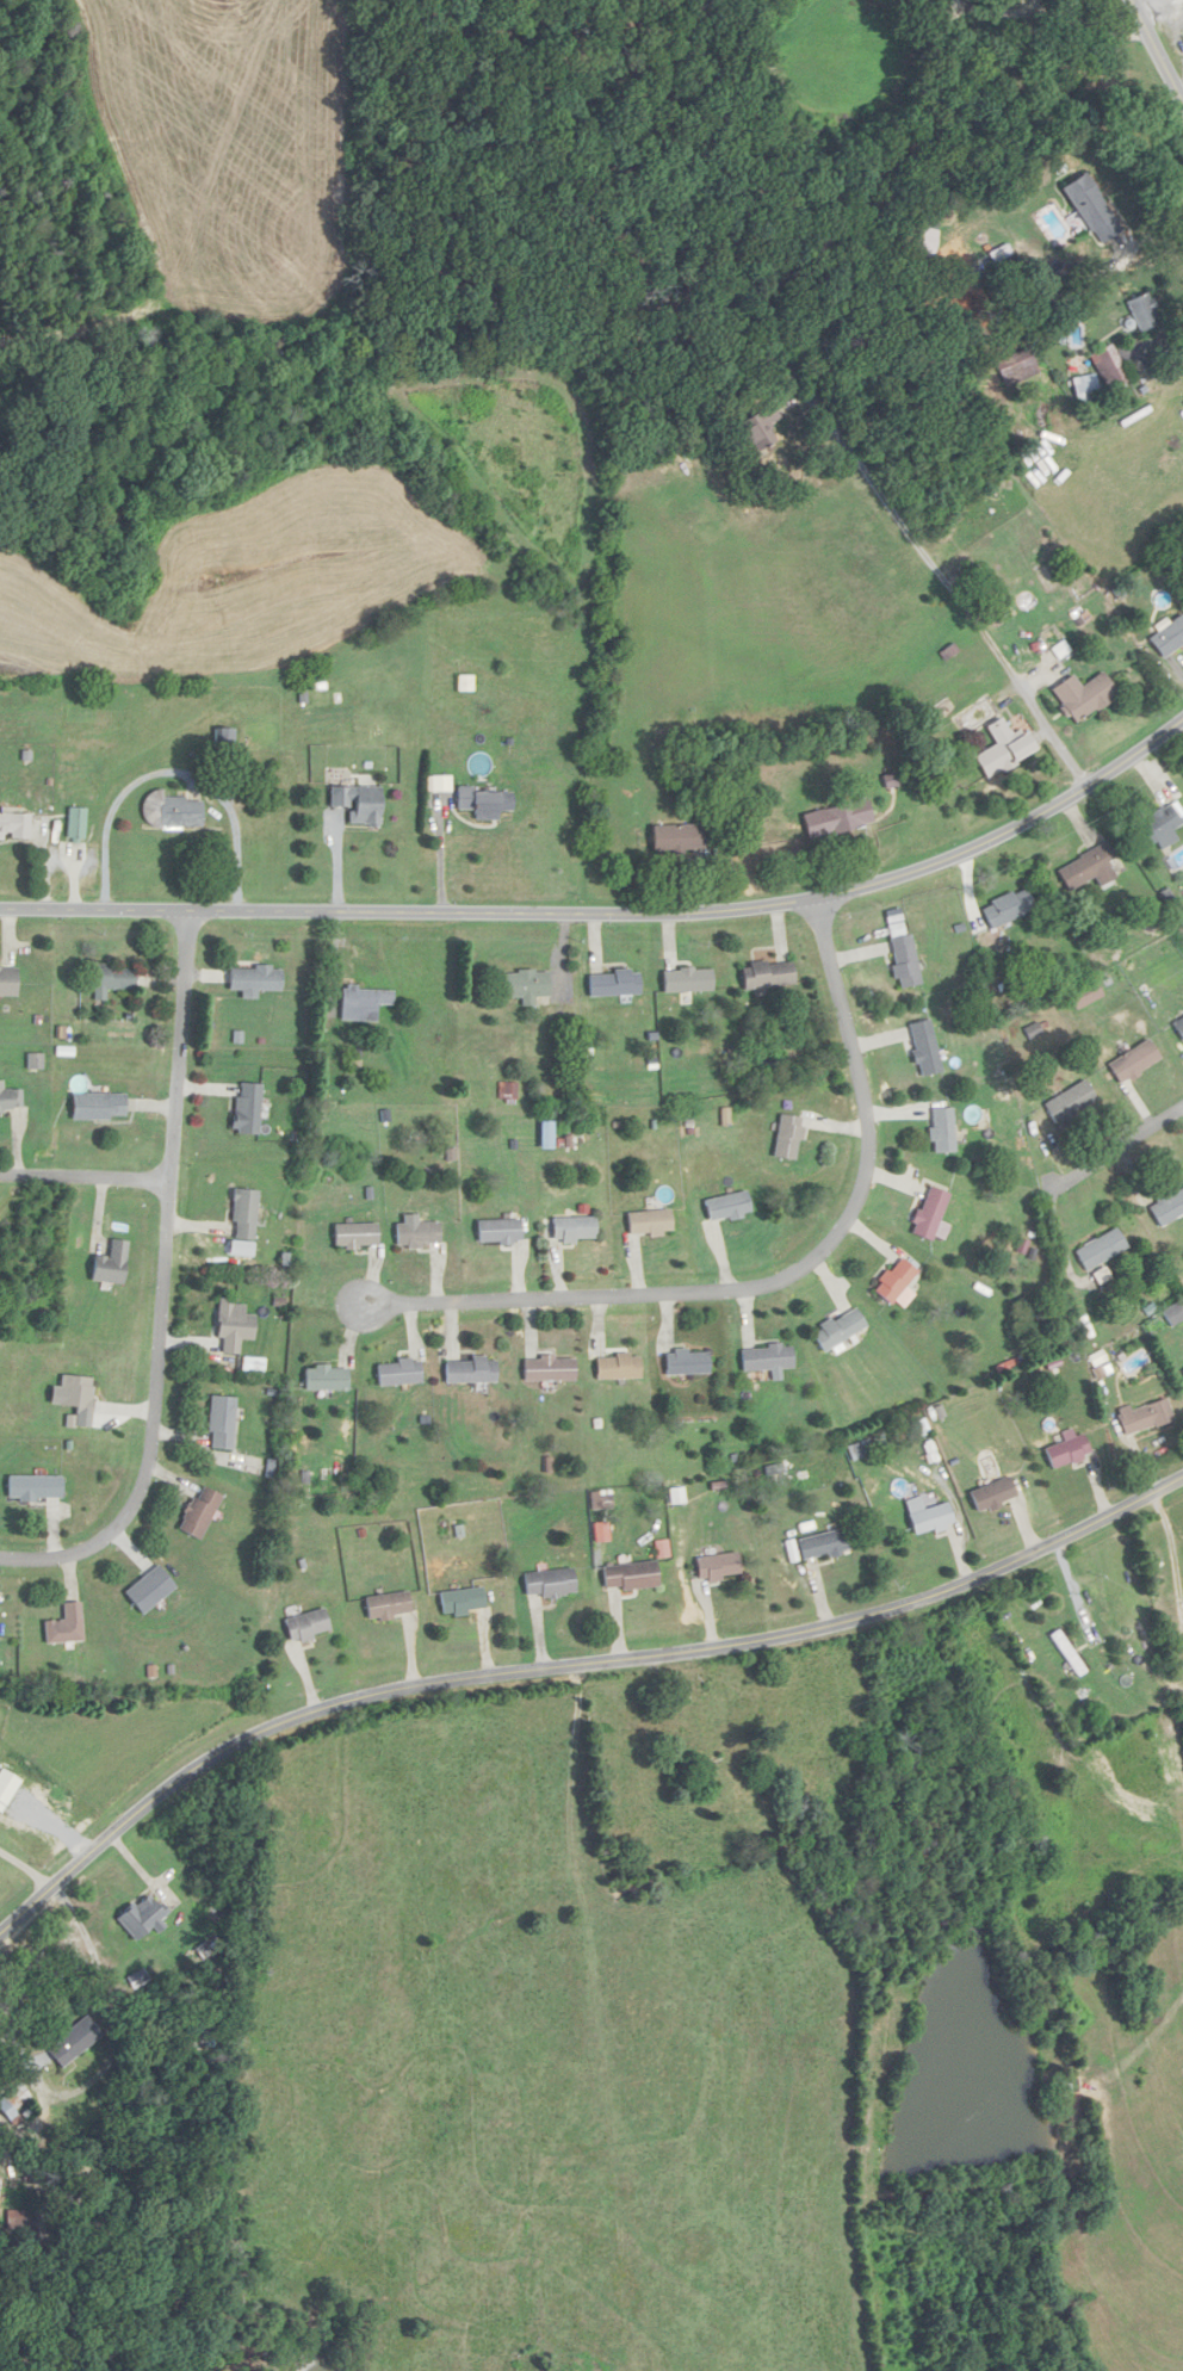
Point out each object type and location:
road: (1152, 2)
road: (1181, 4)
road: (1059, 21)
road: (1157, 50)
road: (1182, 95)
building: (1091, 209)
road: (1153, 235)
building: (1144, 311)
road: (1148, 364)
building: (1109, 367)
building: (1086, 391)
building: (758, 428)
road: (941, 575)
building: (1167, 637)
building: (1083, 695)
building: (1003, 749)
building: (484, 803)
building: (357, 804)
building: (180, 812)
building: (837, 819)
building: (76, 824)
building: (14, 828)
building: (1157, 829)
building: (676, 837)
building: (1088, 868)
building: (1007, 909)
road: (613, 912)
building: (902, 957)
building: (767, 976)
building: (107, 979)
building: (253, 980)
building: (687, 980)
building: (7, 983)
building: (613, 984)
building: (525, 986)
building: (1084, 996)
building: (363, 1003)
building: (1178, 1029)
building: (923, 1048)
building: (1133, 1063)
building: (11, 1102)
building: (1071, 1102)
building: (97, 1107)
building: (246, 1109)
building: (941, 1132)
building: (787, 1138)
road: (1116, 1152)
road: (85, 1184)
building: (725, 1207)
building: (1167, 1208)
building: (243, 1214)
building: (929, 1214)
building: (648, 1224)
building: (572, 1230)
building: (497, 1232)
building: (354, 1236)
building: (417, 1236)
building: (1100, 1250)
building: (110, 1264)
road: (776, 1273)
building: (894, 1281)
road: (162, 1290)
building: (1173, 1313)
building: (233, 1325)
building: (837, 1331)
building: (766, 1358)
building: (685, 1363)
building: (617, 1368)
building: (547, 1370)
building: (1182, 1370)
building: (469, 1372)
building: (397, 1374)
building: (324, 1380)
building: (78, 1401)
building: (1144, 1417)
building: (221, 1424)
building: (1066, 1451)
building: (33, 1488)
building: (991, 1494)
building: (198, 1515)
building: (930, 1519)
building: (823, 1544)
building: (716, 1566)
building: (627, 1575)
building: (547, 1583)
building: (148, 1591)
building: (459, 1602)
building: (385, 1605)
building: (306, 1624)
building: (64, 1626)
building: (1069, 1653)
road: (569, 1664)
road: (25, 1864)
building: (140, 1915)
building: (72, 2041)
building: (0, 2183)
building: (20, 2231)

